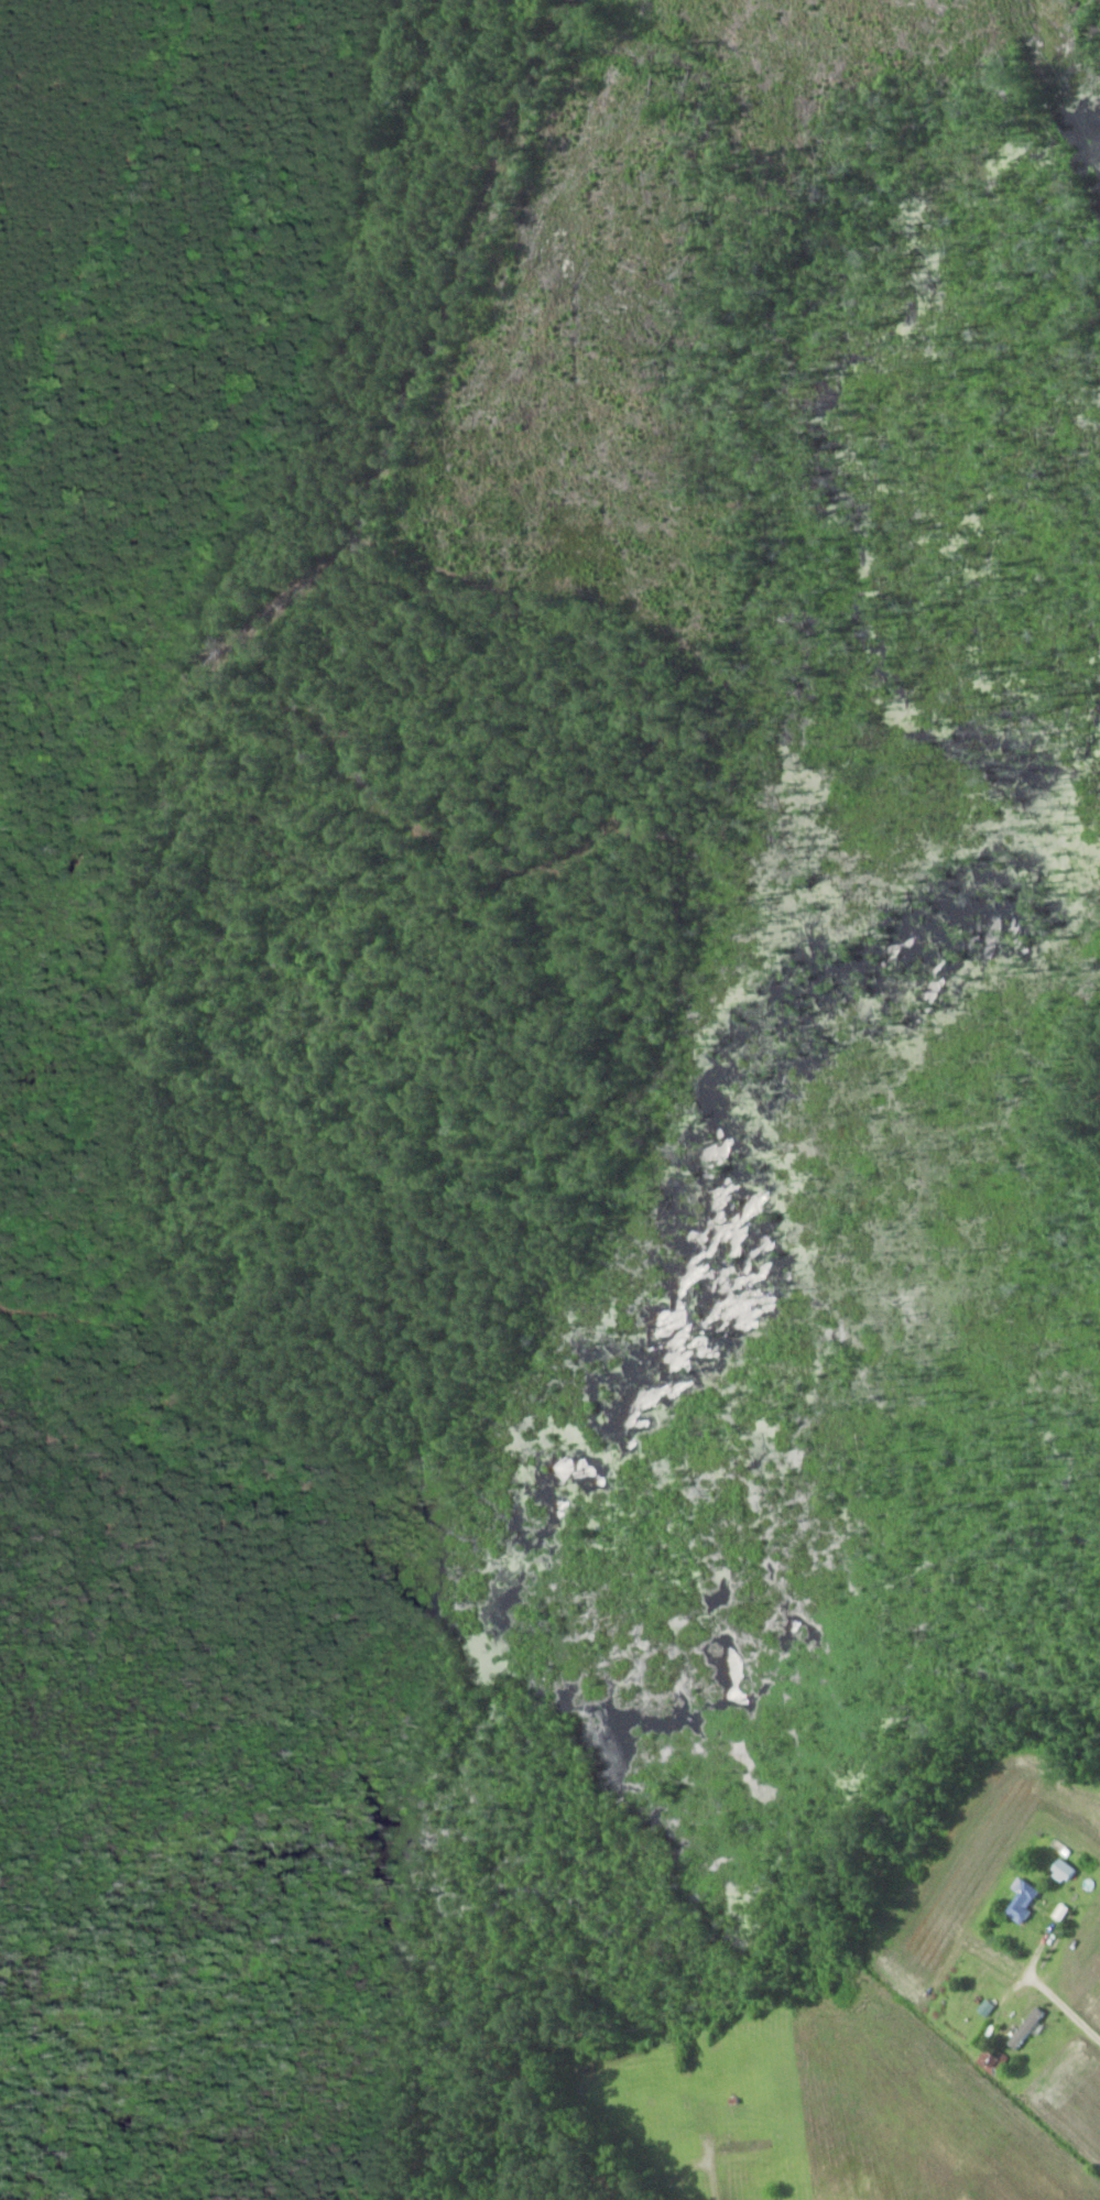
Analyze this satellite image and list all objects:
building: (1068, 1871)
building: (1028, 1897)
building: (1031, 2027)
building: (994, 2059)
building: (748, 2146)

